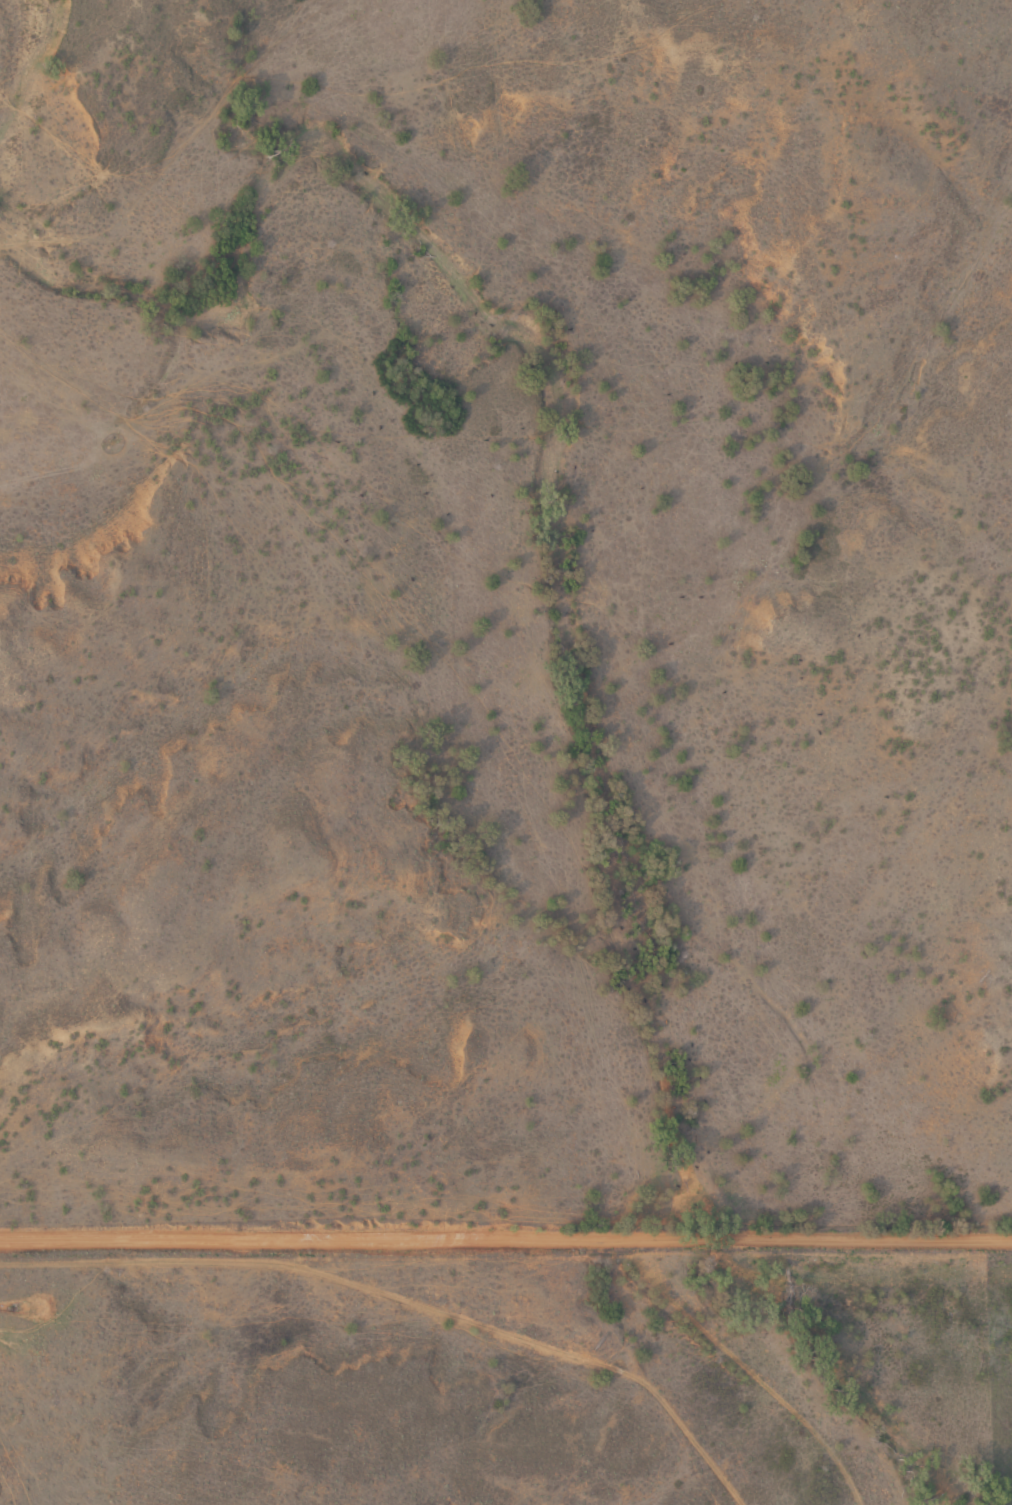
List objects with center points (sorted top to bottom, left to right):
road: (506, 1239)

